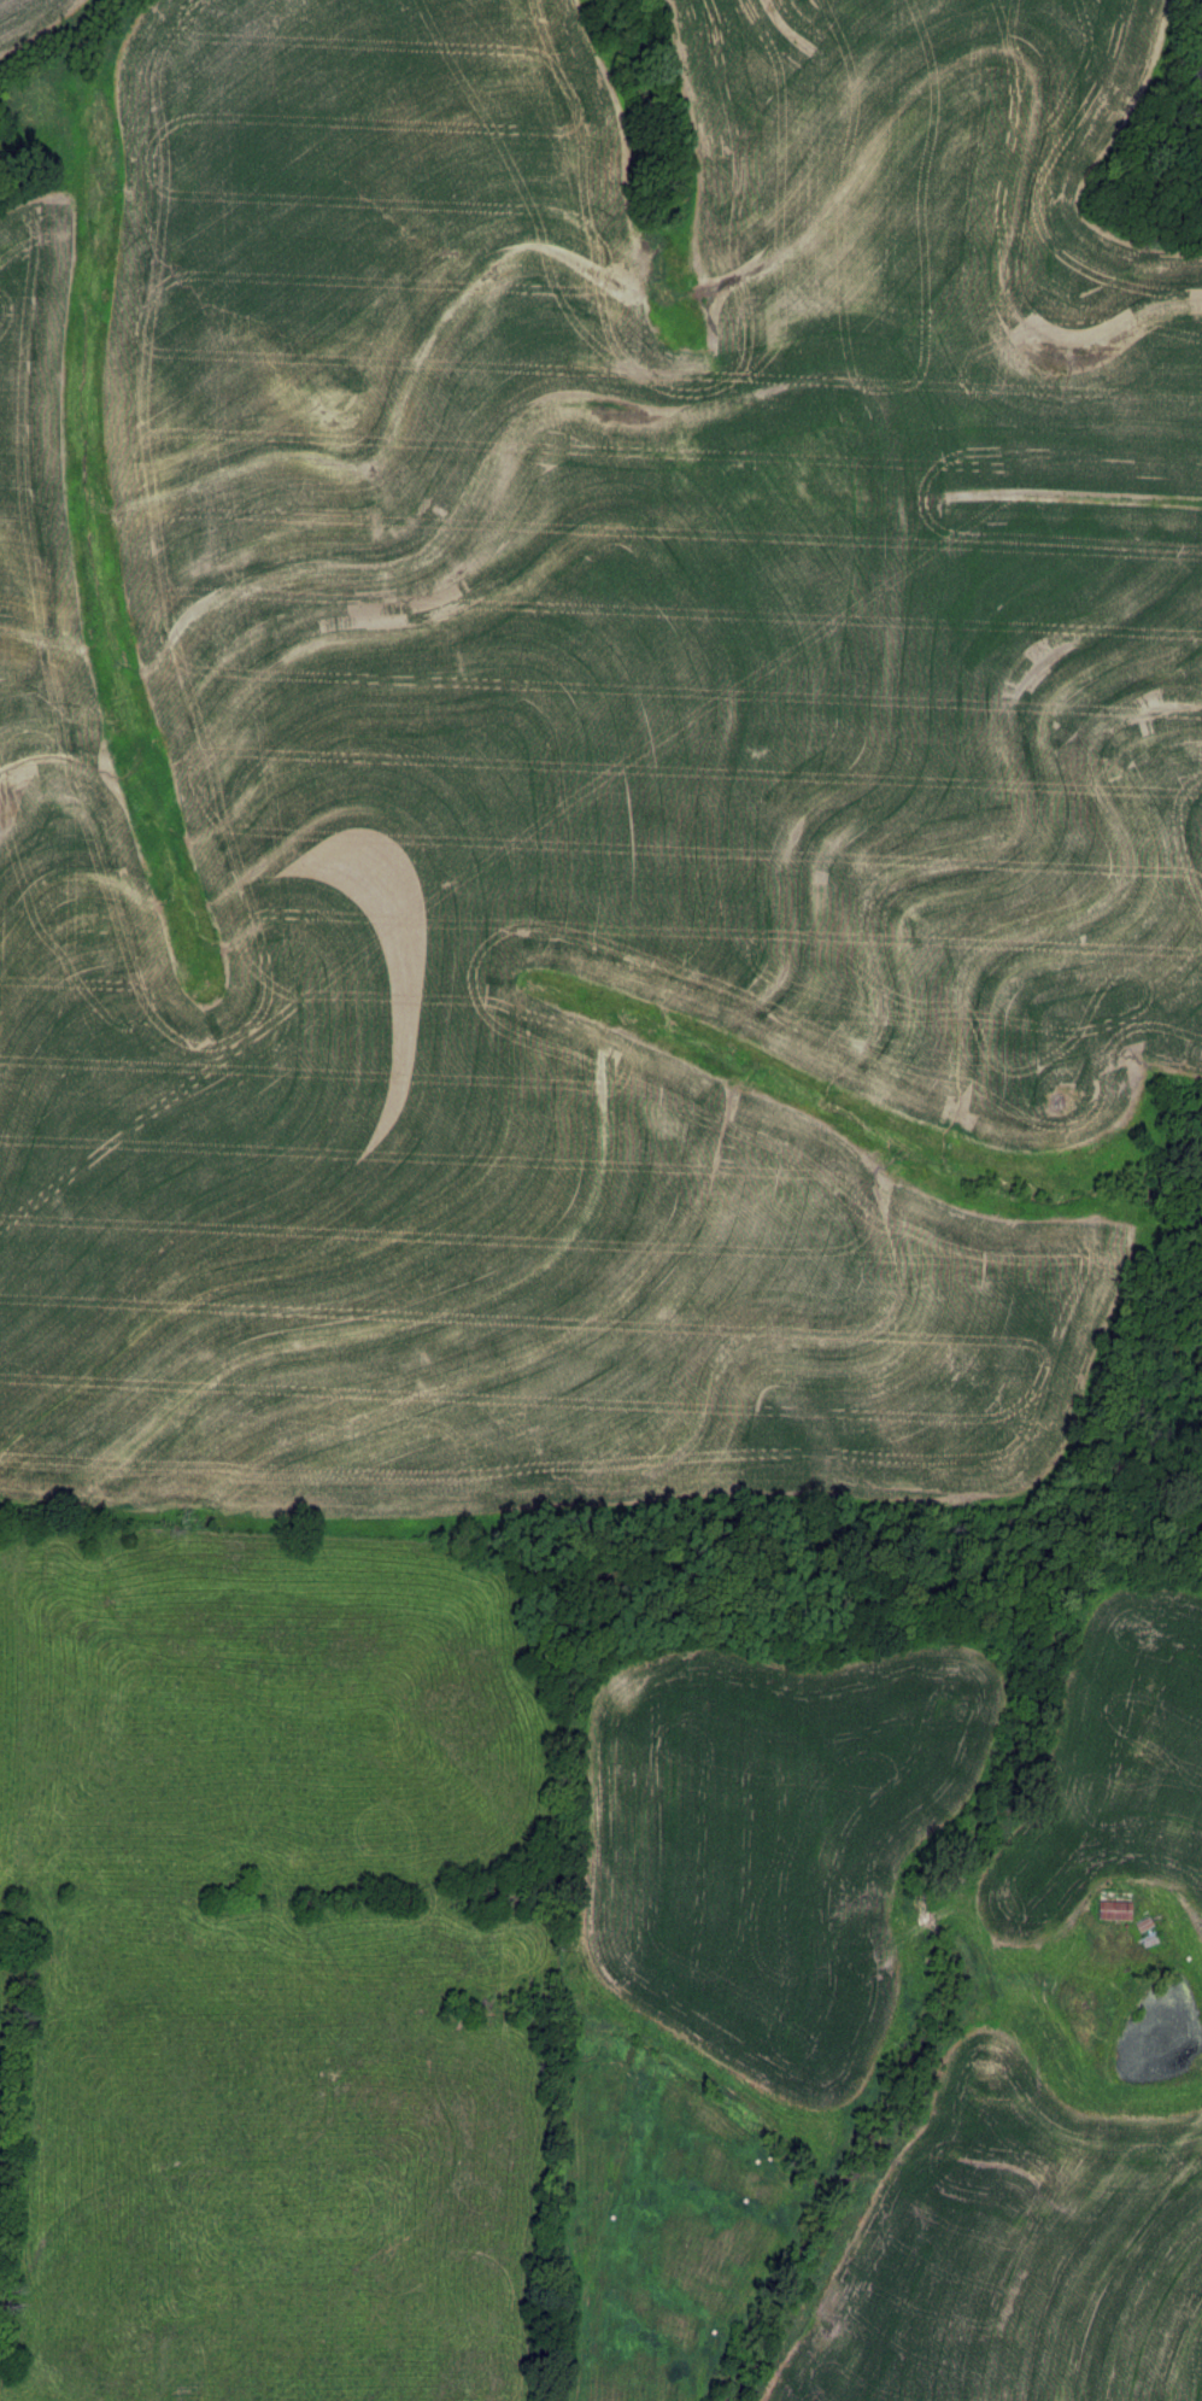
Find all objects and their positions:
road: (1056, 498)
building: (1116, 1909)
building: (1145, 1929)

